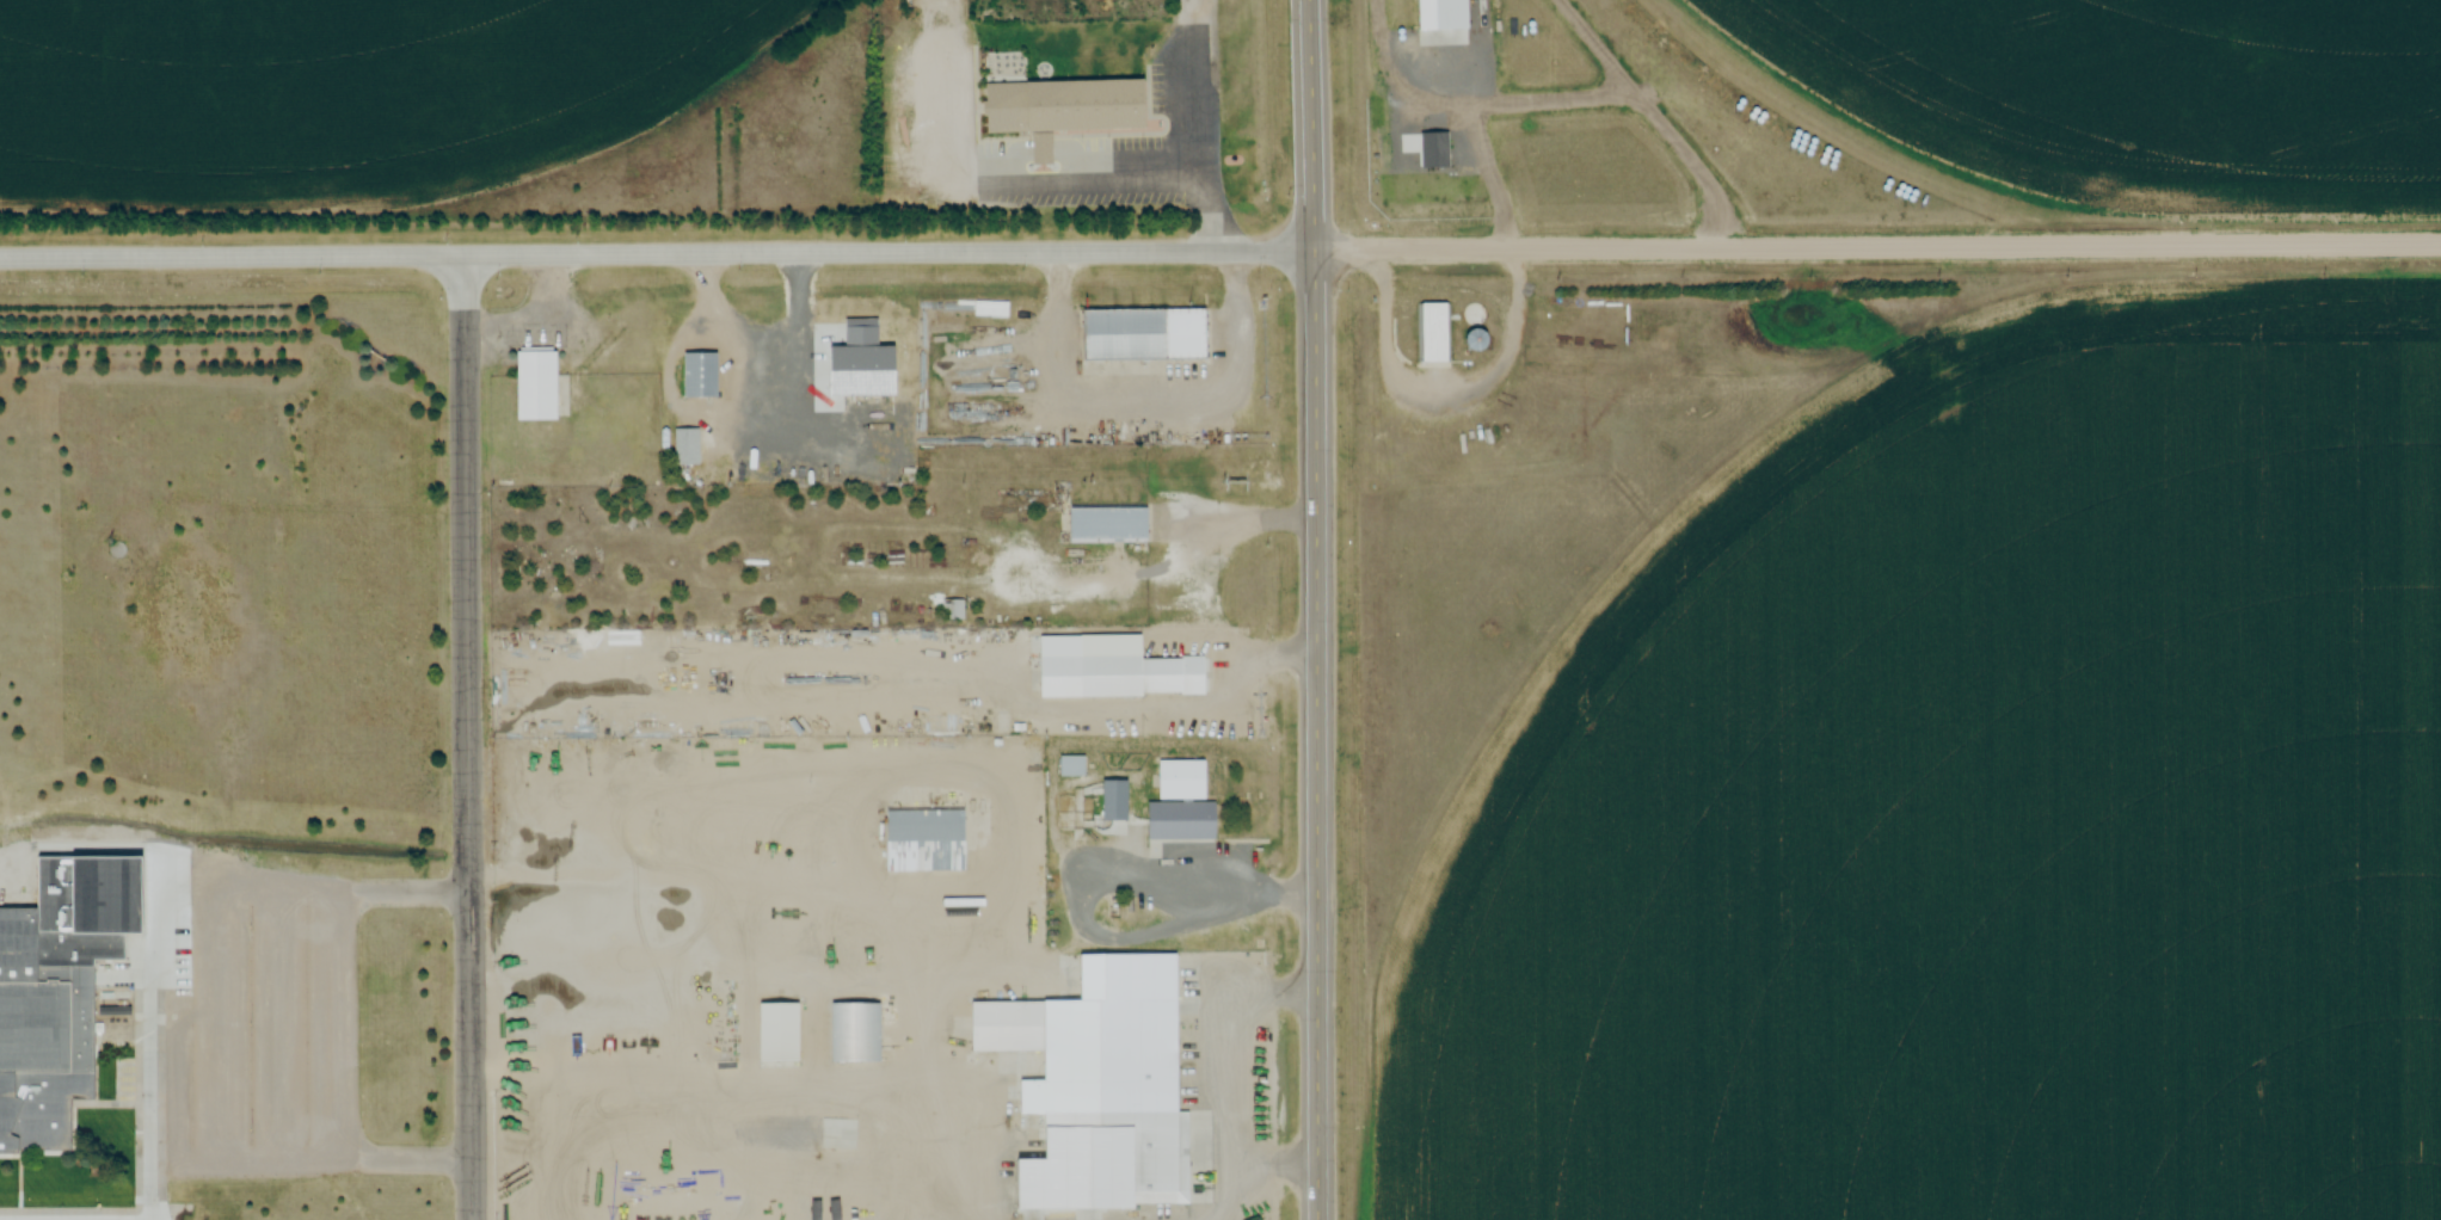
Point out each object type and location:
building: (1065, 106)
road: (1194, 124)
road: (1876, 247)
road: (889, 251)
road: (233, 253)
building: (1472, 314)
building: (1142, 334)
building: (1434, 334)
building: (1474, 341)
building: (697, 376)
building: (534, 384)
building: (684, 448)
building: (1111, 522)
building: (952, 605)
road: (1314, 609)
building: (1112, 667)
road: (471, 737)
building: (1070, 766)
building: (1179, 780)
building: (921, 840)
road: (235, 883)
road: (250, 947)
road: (251, 999)
parking lot: (247, 1027)
building: (771, 1030)
building: (854, 1033)
building: (1094, 1039)
building: (38, 1041)
road: (252, 1048)
road: (155, 1049)
road: (349, 1086)
road: (252, 1103)
building: (838, 1134)
road: (252, 1158)

